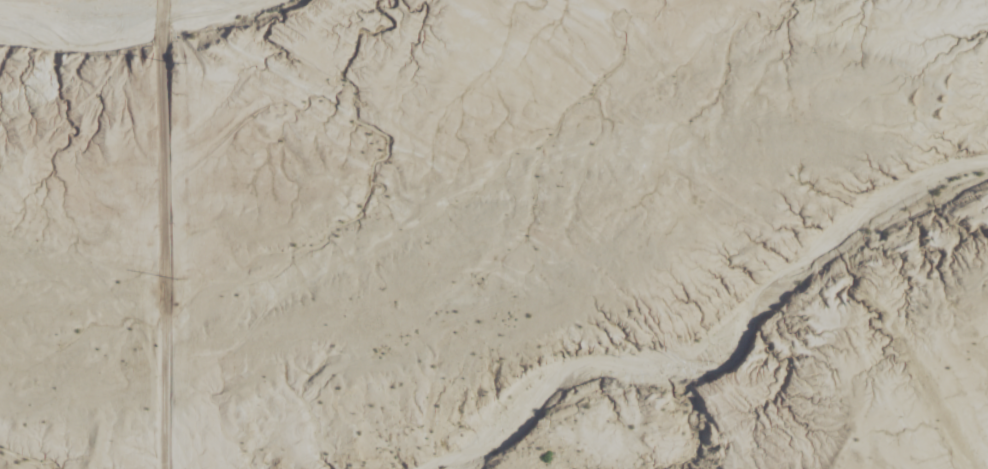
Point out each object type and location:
road: (126, 26)
road: (163, 234)

